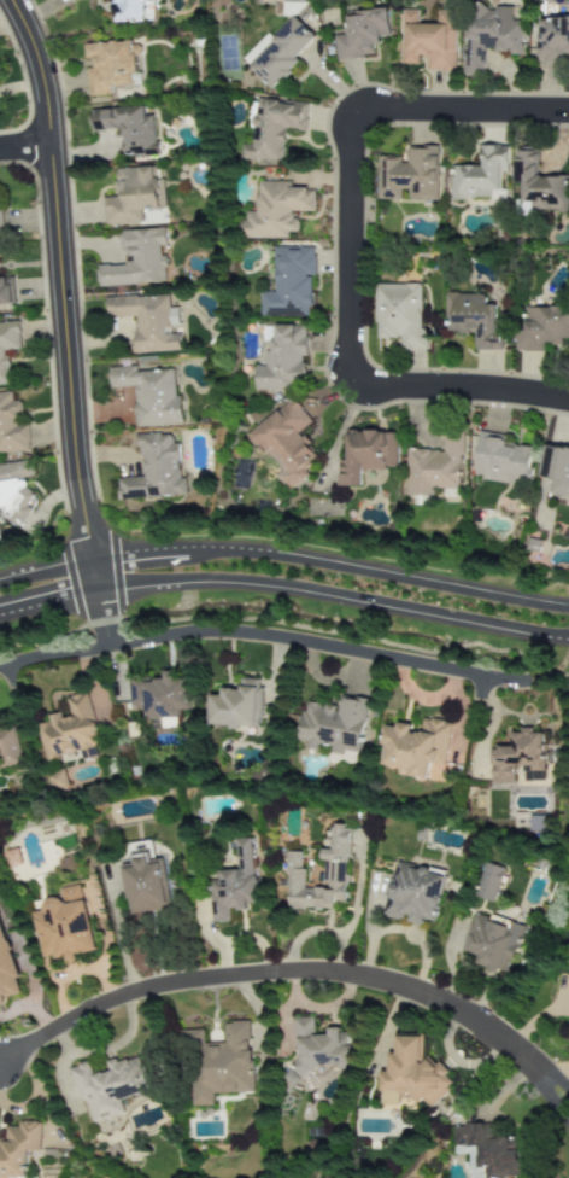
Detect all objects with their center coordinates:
building: (131, 11)
building: (363, 34)
building: (488, 35)
building: (552, 37)
building: (429, 40)
building: (258, 51)
building: (283, 53)
building: (110, 66)
road: (459, 107)
building: (128, 129)
building: (272, 130)
road: (27, 150)
building: (480, 175)
building: (409, 176)
building: (539, 185)
building: (134, 194)
building: (275, 210)
building: (0, 226)
road: (344, 247)
building: (136, 259)
building: (288, 282)
building: (6, 291)
road: (65, 296)
building: (400, 315)
building: (474, 319)
building: (146, 321)
building: (541, 328)
road: (458, 389)
building: (148, 395)
building: (11, 427)
building: (284, 443)
building: (365, 455)
building: (501, 460)
building: (434, 467)
building: (154, 470)
building: (556, 471)
building: (14, 491)
road: (284, 554)
road: (284, 590)
road: (106, 623)
road: (288, 624)
road: (321, 645)
road: (54, 657)
road: (14, 678)
road: (483, 689)
building: (162, 696)
building: (236, 706)
building: (332, 725)
building: (69, 730)
building: (8, 745)
building: (415, 746)
building: (518, 756)
building: (55, 780)
building: (13, 858)
building: (334, 869)
building: (145, 881)
building: (488, 882)
building: (233, 885)
building: (412, 893)
building: (64, 926)
building: (492, 943)
building: (7, 970)
road: (298, 972)
building: (317, 1050)
building: (218, 1063)
building: (411, 1074)
building: (107, 1086)
building: (18, 1149)
building: (487, 1151)

